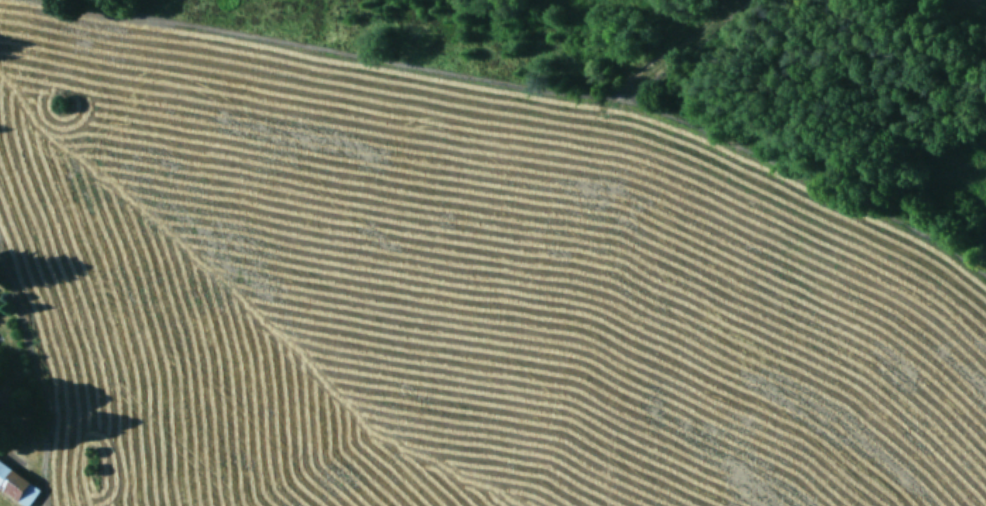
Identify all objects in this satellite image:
crop: (493, 253)
building: (17, 483)

